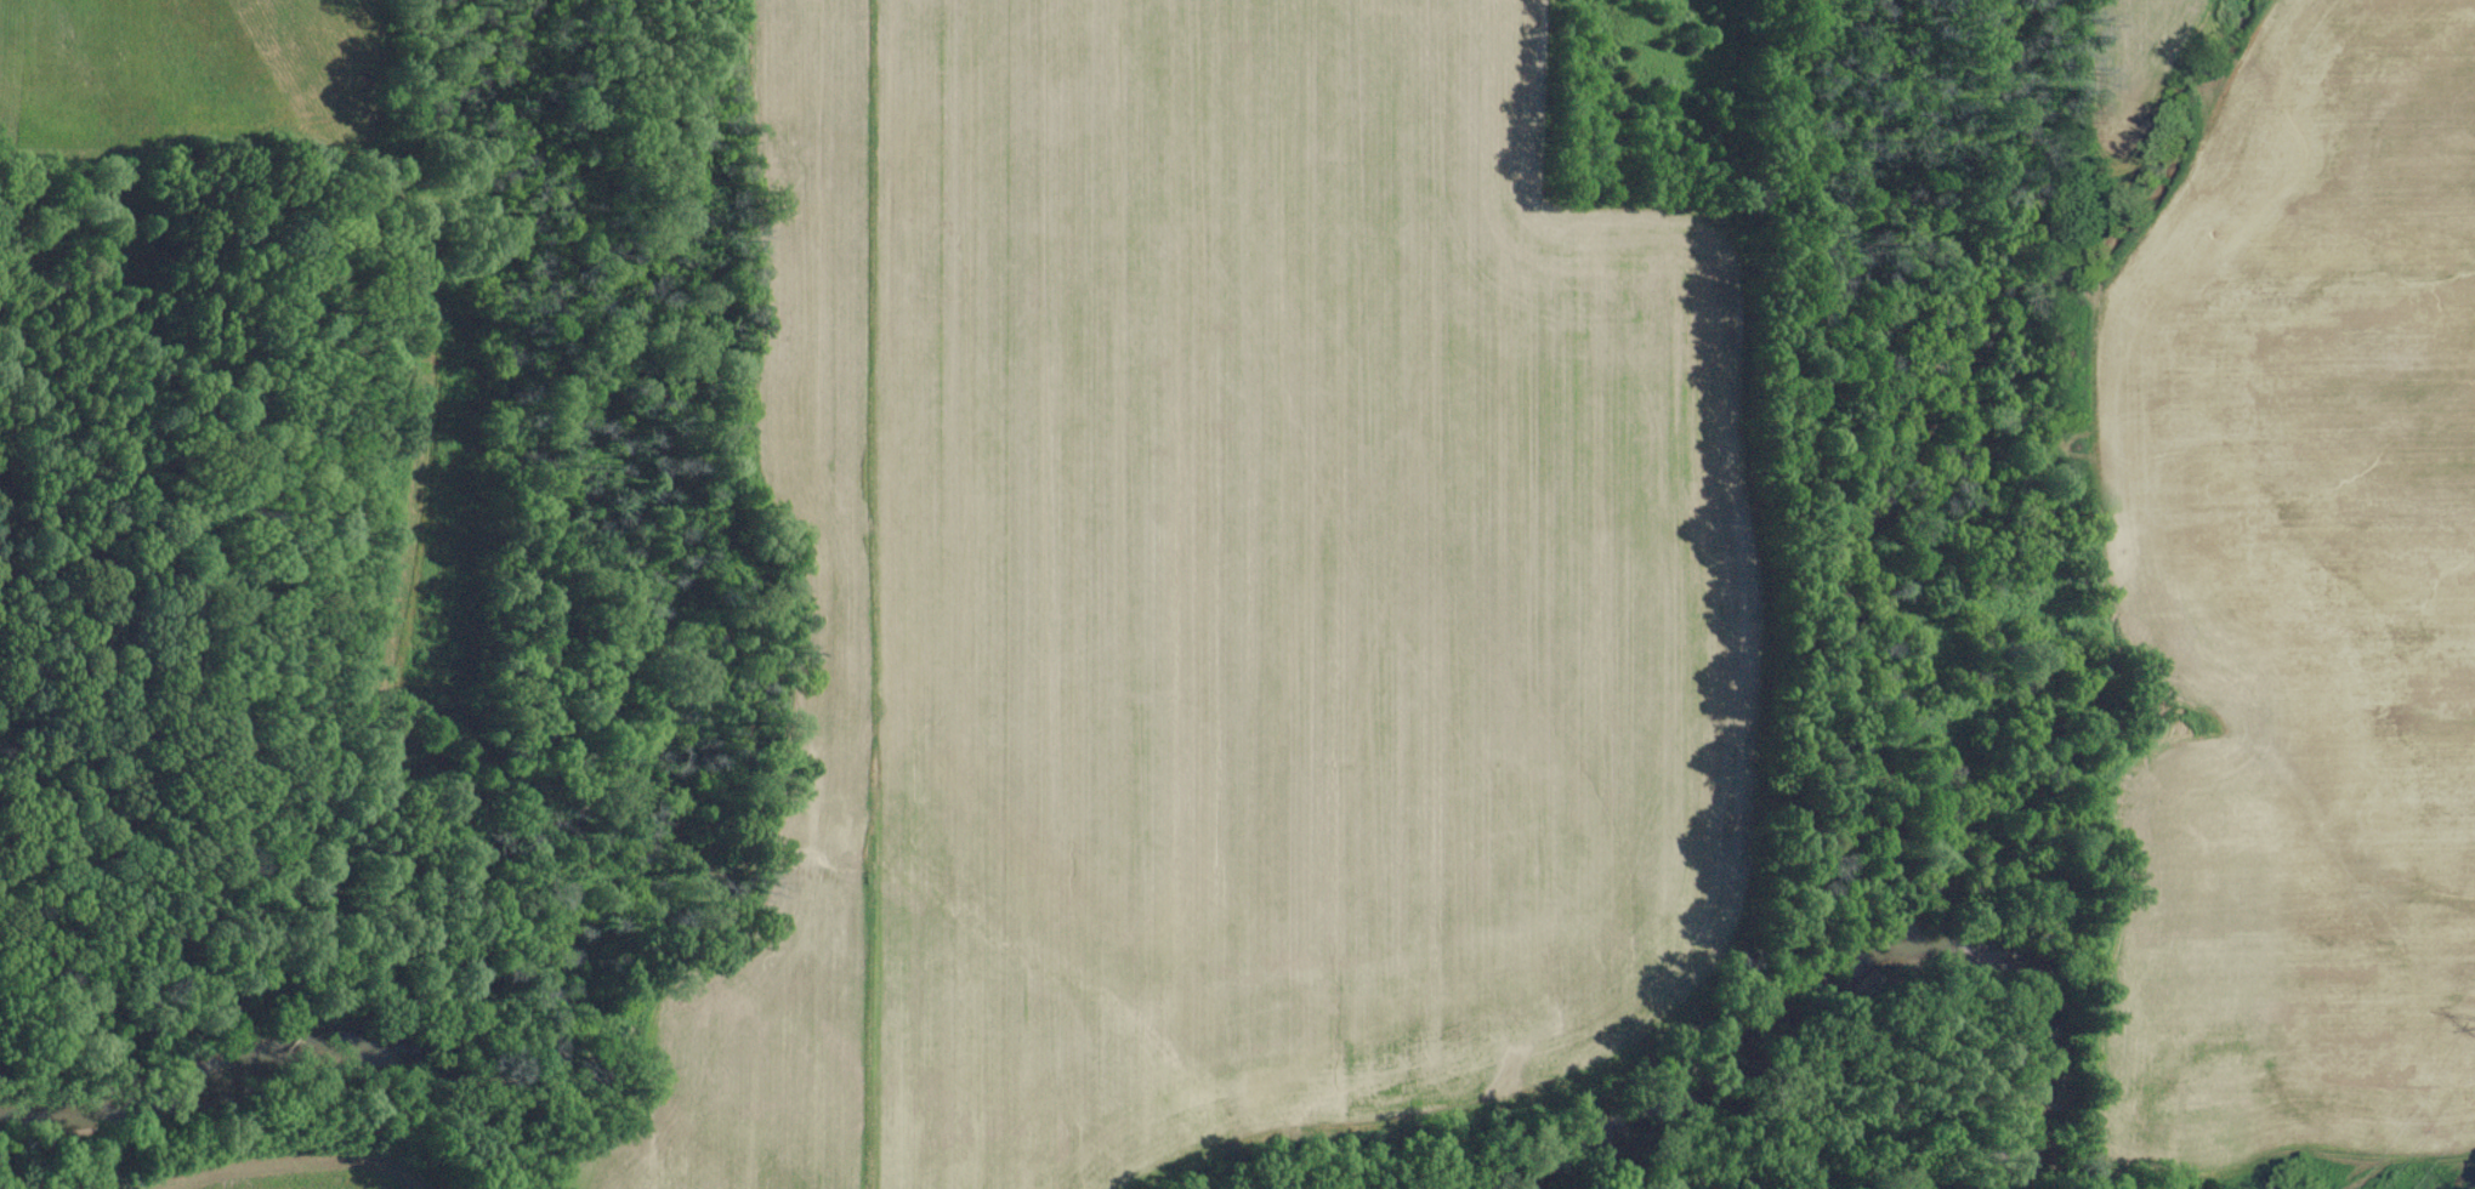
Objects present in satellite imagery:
river: (282, 1060)
river: (1756, 1064)

